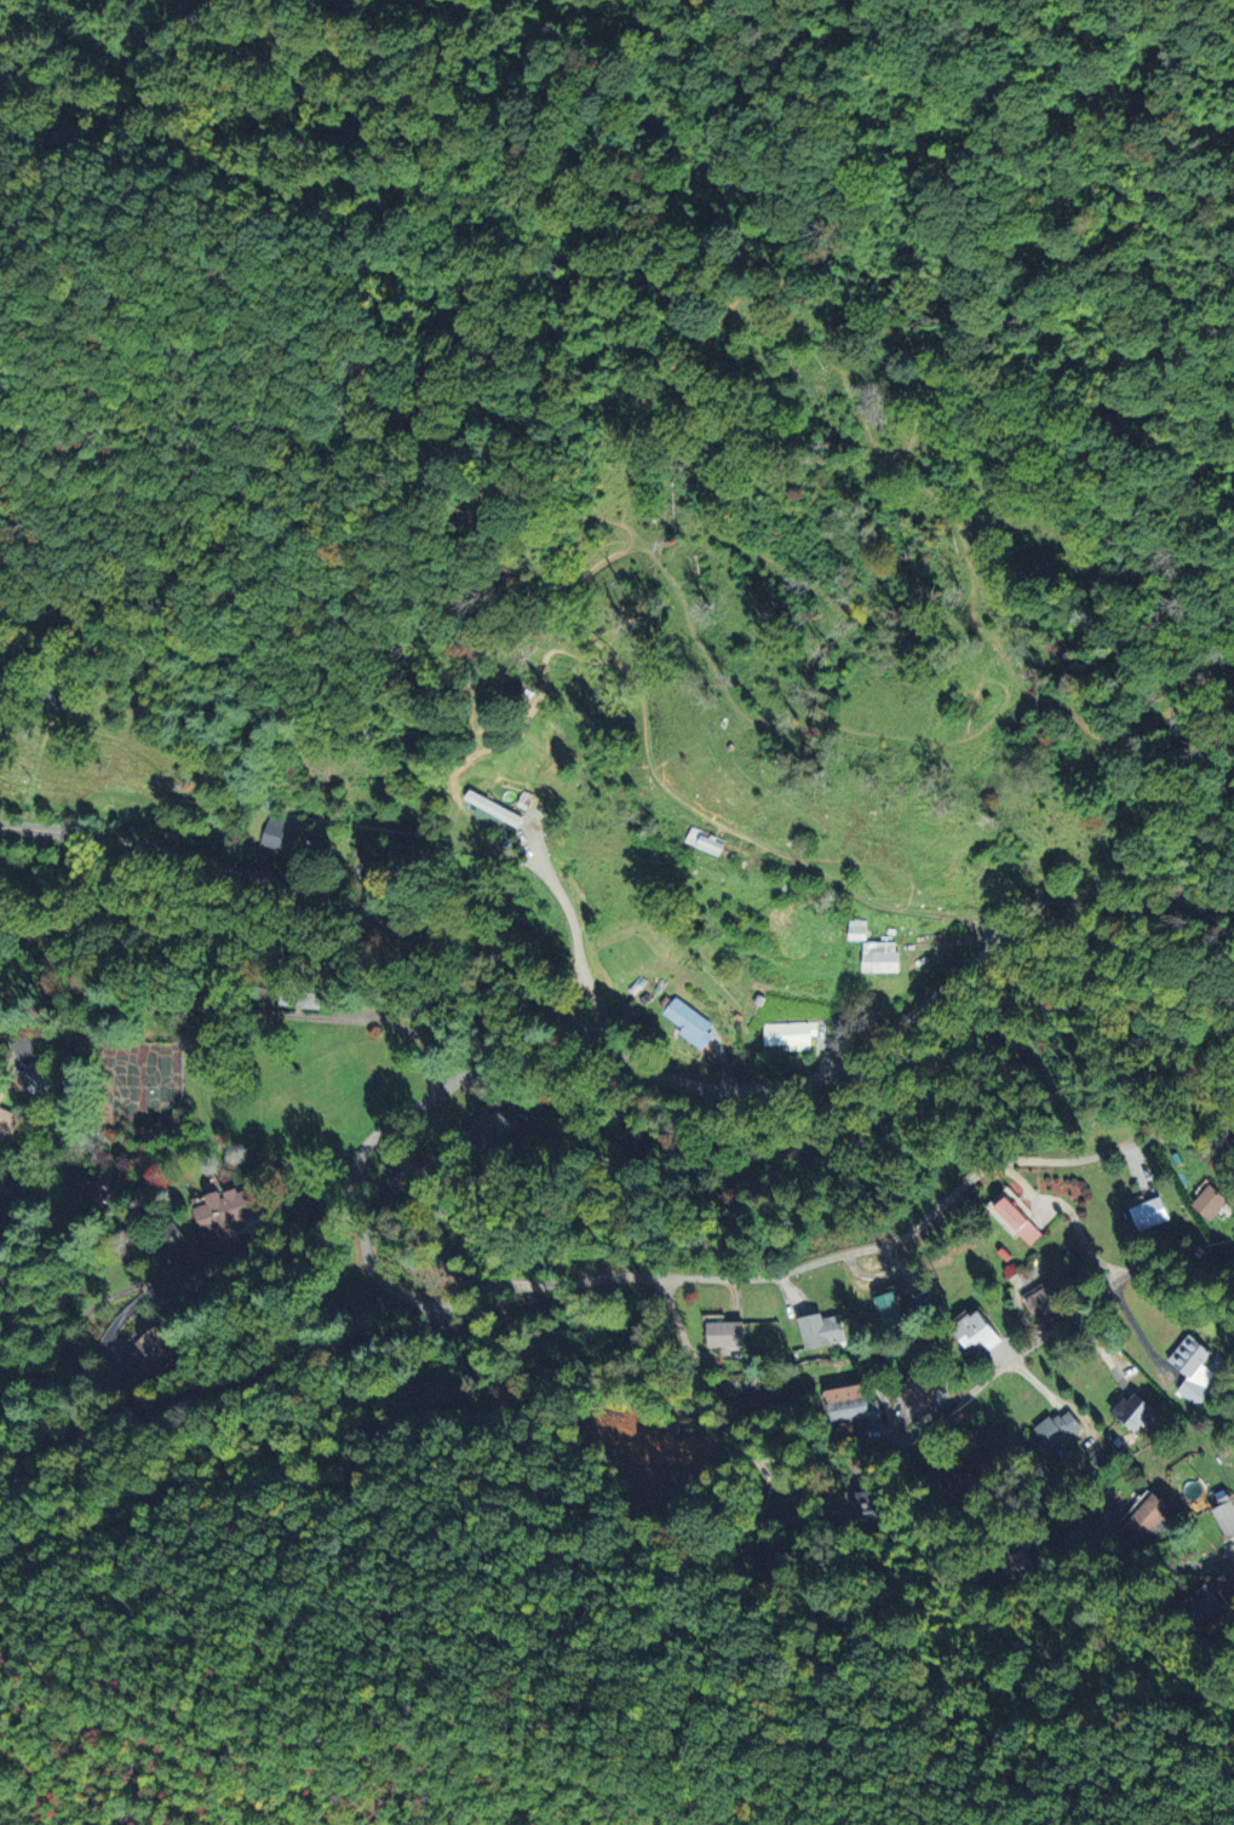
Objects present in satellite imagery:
building: (492, 810)
building: (281, 833)
building: (706, 842)
road: (1153, 899)
building: (857, 929)
road: (574, 932)
building: (882, 957)
building: (299, 999)
road: (461, 1004)
road: (557, 1004)
road: (237, 1008)
building: (689, 1022)
building: (790, 1034)
building: (21, 1050)
building: (40, 1077)
building: (1, 1092)
building: (7, 1120)
building: (492, 1132)
building: (403, 1180)
building: (17, 1189)
building: (109, 1195)
road: (948, 1195)
building: (1211, 1203)
building: (225, 1209)
road: (335, 1209)
building: (1150, 1213)
building: (6, 1218)
building: (171, 1234)
road: (469, 1295)
building: (1041, 1303)
building: (889, 1309)
road: (1074, 1313)
road: (76, 1328)
building: (821, 1331)
building: (976, 1331)
building: (725, 1335)
building: (151, 1349)
building: (1193, 1370)
road: (220, 1384)
building: (920, 1394)
building: (769, 1398)
building: (851, 1405)
building: (1135, 1411)
building: (1055, 1431)
road: (912, 1440)
road: (337, 1454)
building: (969, 1479)
building: (869, 1505)
building: (793, 1513)
building: (1226, 1515)
building: (1147, 1516)
road: (1215, 1556)
building: (1016, 1563)
building: (1205, 1606)

